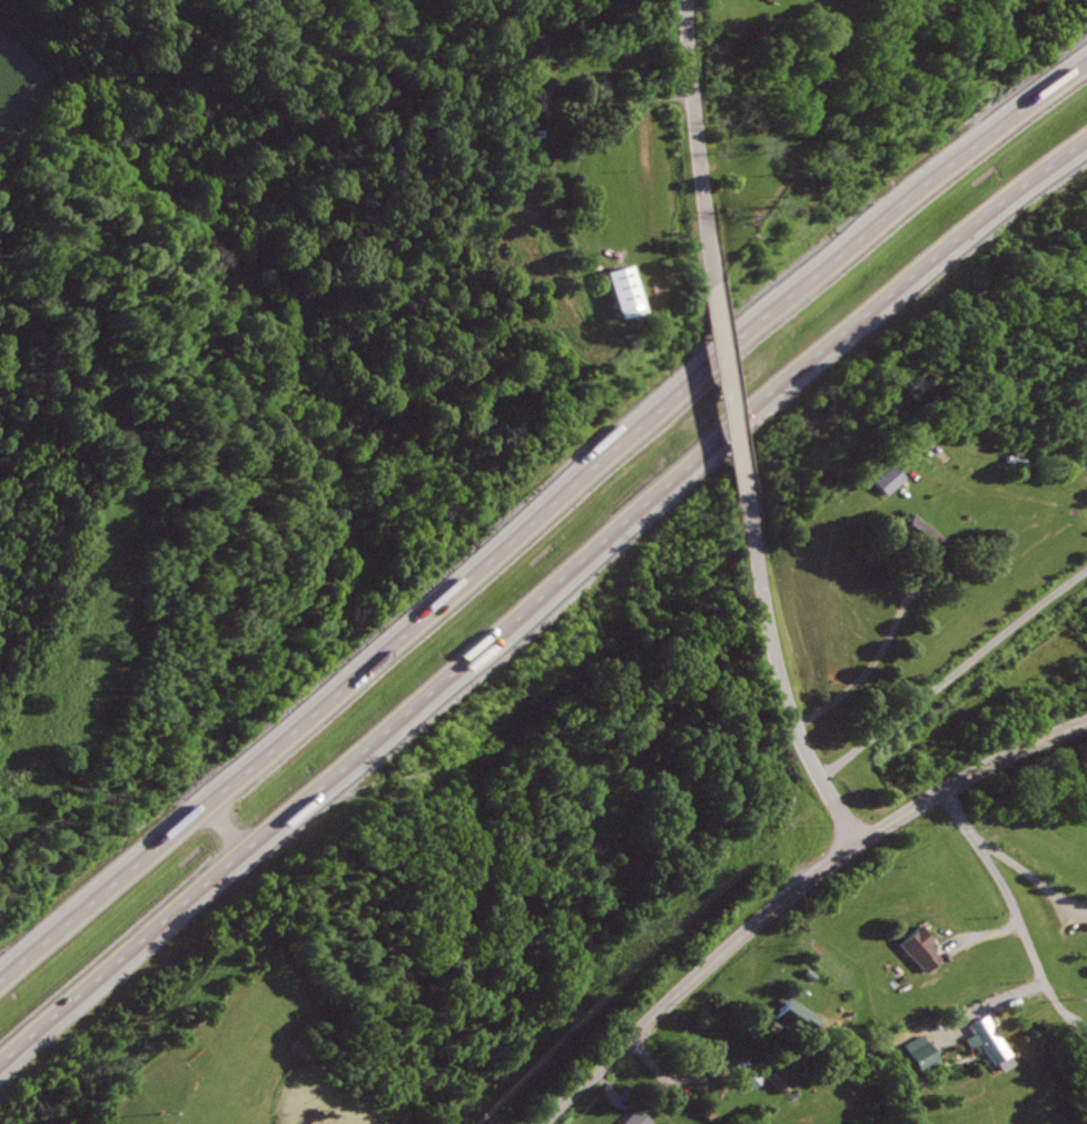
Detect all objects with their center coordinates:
road: (345, 107)
road: (691, 124)
road: (921, 185)
road: (925, 272)
building: (625, 290)
road: (728, 351)
road: (729, 369)
road: (739, 428)
building: (879, 480)
building: (921, 536)
road: (876, 661)
road: (952, 670)
road: (780, 674)
road: (345, 681)
road: (354, 761)
road: (1029, 878)
road: (999, 891)
road: (790, 893)
road: (978, 934)
building: (917, 947)
road: (991, 1005)
road: (1068, 1013)
building: (801, 1018)
building: (992, 1038)
building: (926, 1056)
road: (689, 1076)
road: (611, 1086)
building: (678, 1098)
building: (639, 1117)

